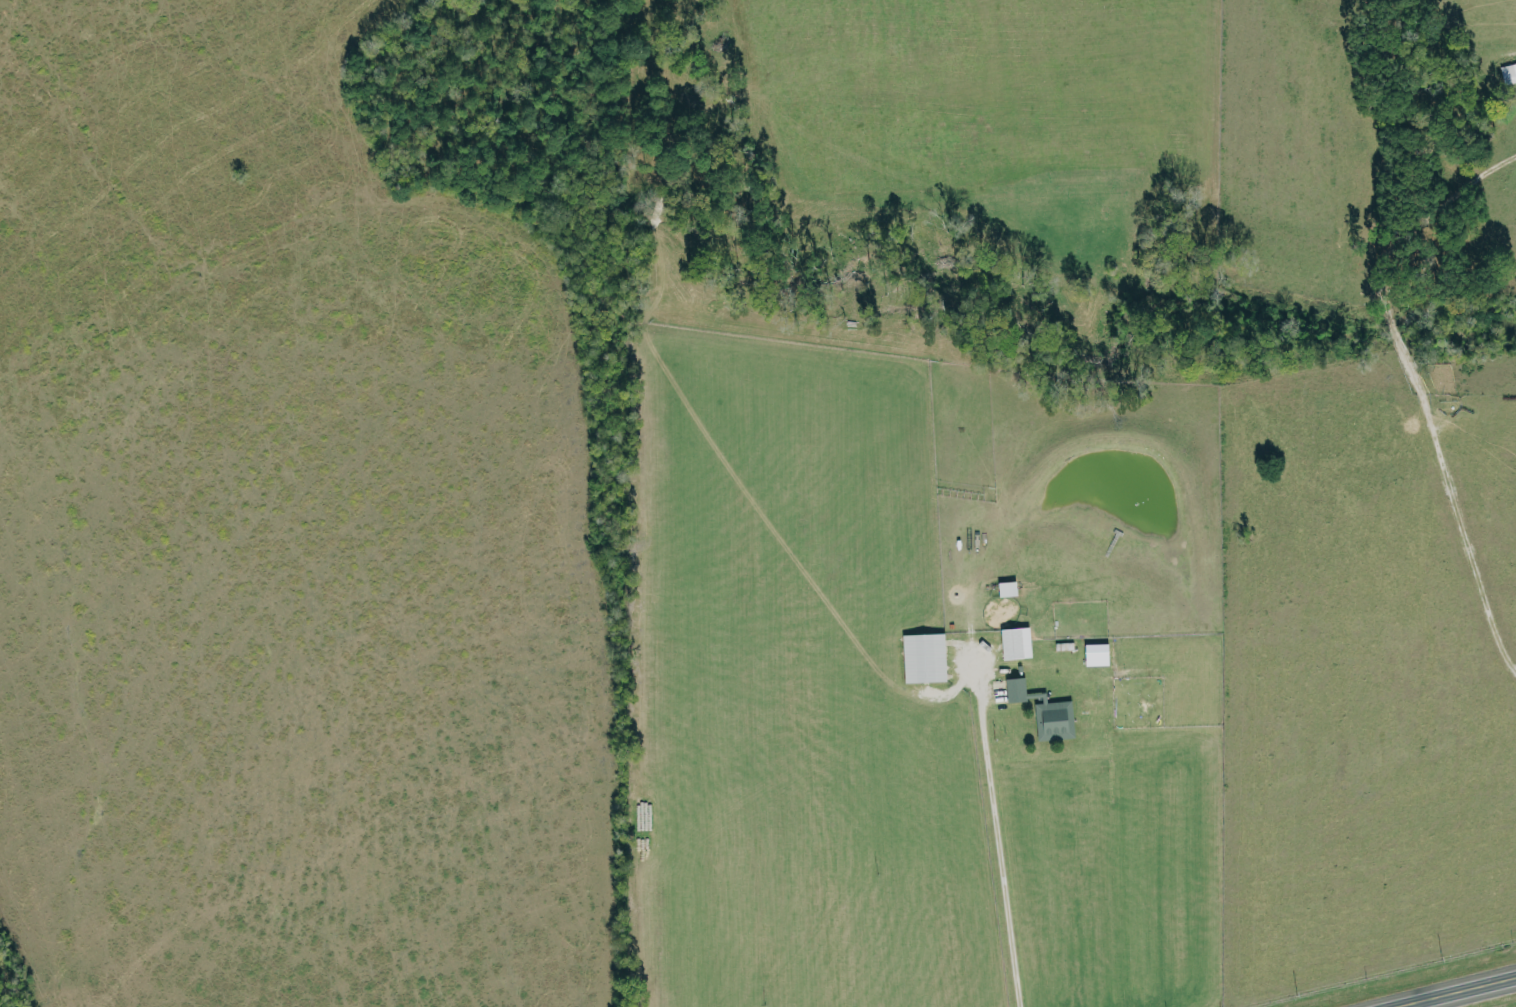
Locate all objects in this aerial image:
building: (1508, 73)
building: (1006, 589)
building: (1015, 643)
building: (923, 657)
building: (1044, 711)
road: (995, 849)
road: (1460, 993)

